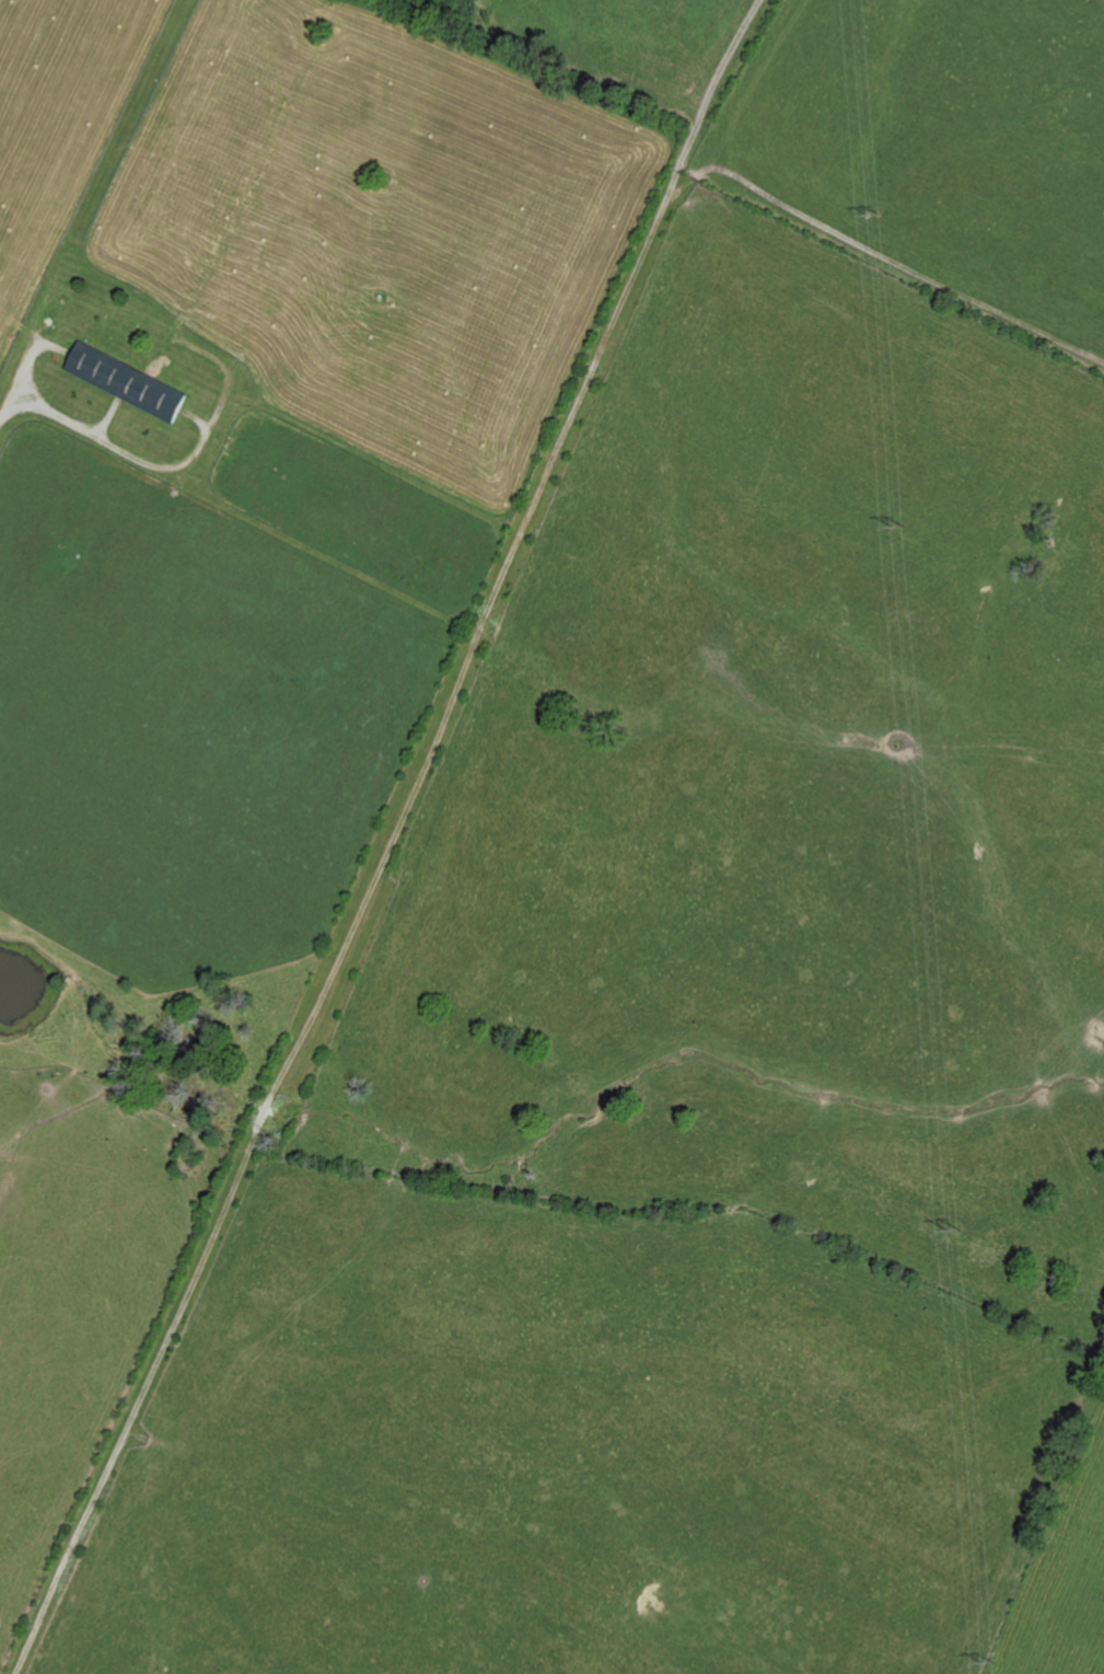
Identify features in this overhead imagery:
building: (127, 382)
road: (371, 834)

